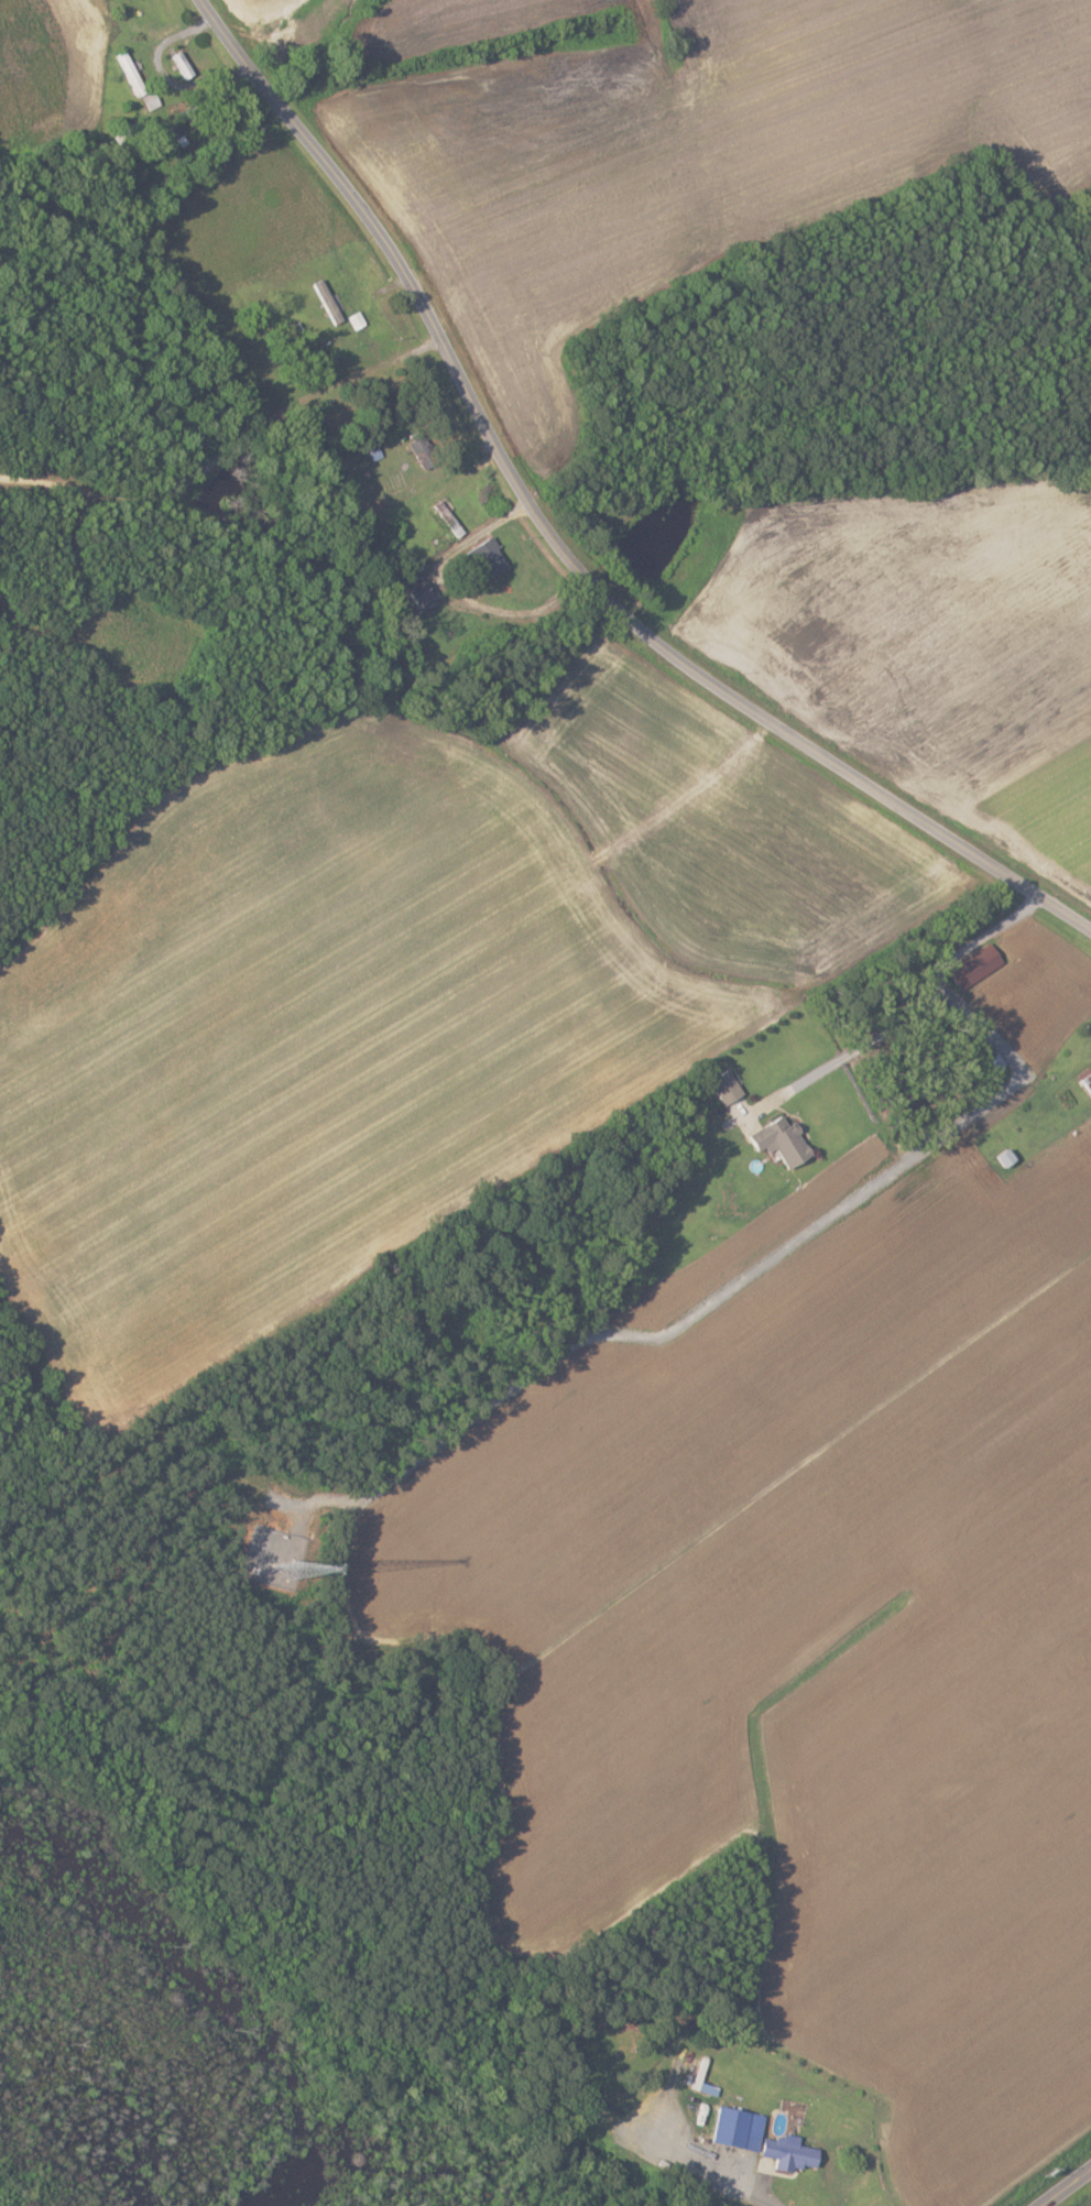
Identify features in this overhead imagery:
building: (330, 302)
building: (358, 320)
building: (427, 451)
road: (558, 547)
building: (491, 558)
road: (452, 596)
road: (839, 1050)
building: (722, 1085)
building: (776, 1140)
building: (1000, 1158)
road: (764, 1257)
building: (740, 2127)
building: (794, 2152)
road: (699, 2170)
road: (1067, 2188)

